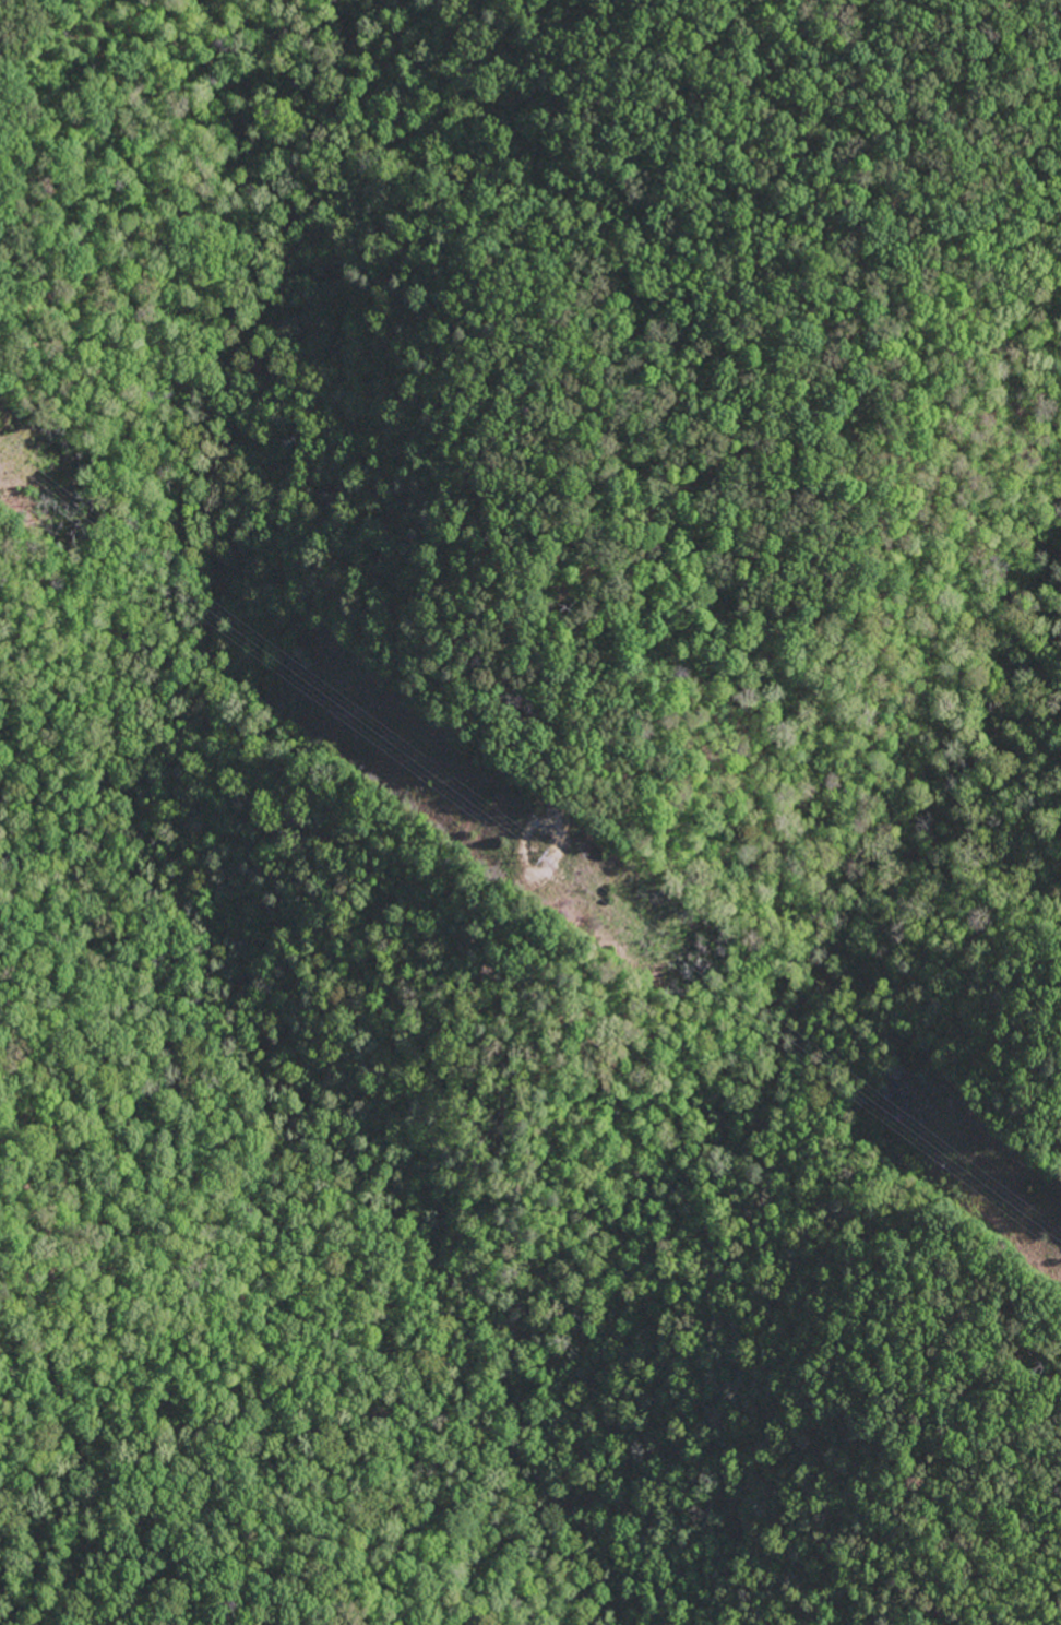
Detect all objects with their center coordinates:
power tower: (538, 852)

